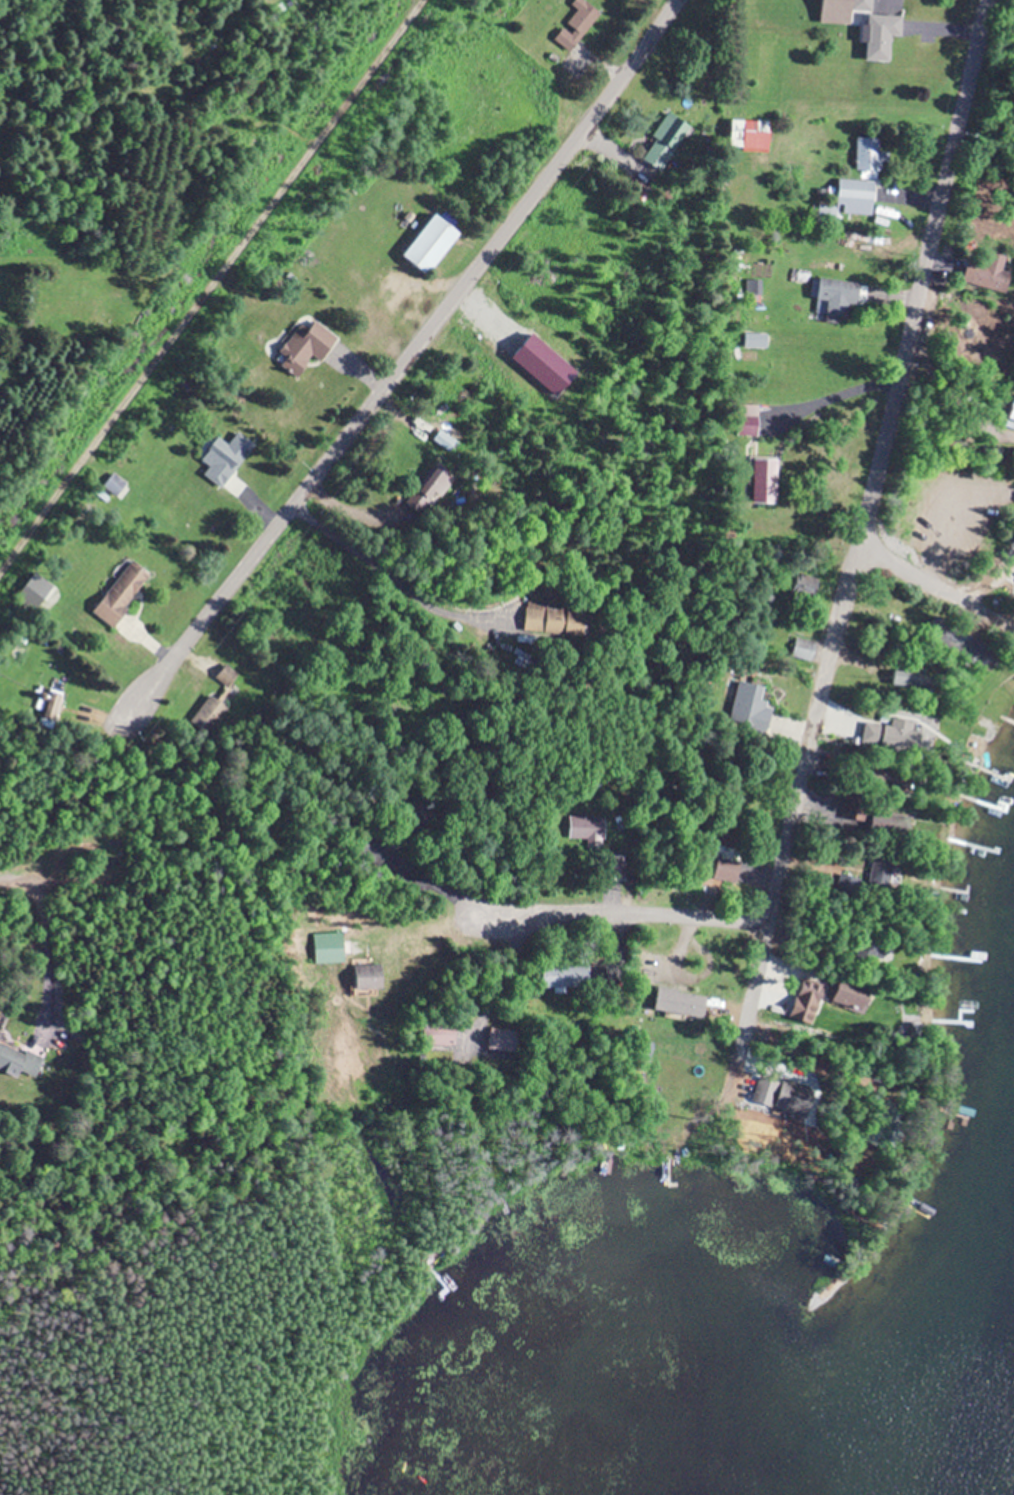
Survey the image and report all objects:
building: (866, 5)
building: (579, 24)
building: (887, 35)
building: (752, 135)
building: (870, 155)
building: (851, 199)
building: (436, 244)
road: (922, 274)
road: (207, 279)
building: (838, 297)
road: (410, 351)
building: (225, 455)
building: (773, 481)
building: (440, 484)
road: (936, 560)
building: (124, 592)
road: (961, 596)
building: (562, 618)
building: (806, 647)
building: (228, 676)
building: (910, 678)
building: (753, 705)
building: (213, 711)
road: (809, 730)
building: (866, 747)
building: (815, 803)
building: (589, 829)
building: (731, 868)
building: (884, 870)
road: (618, 913)
building: (334, 948)
building: (372, 975)
building: (568, 976)
building: (820, 993)
building: (857, 993)
building: (683, 1003)
building: (504, 1039)
building: (19, 1060)

